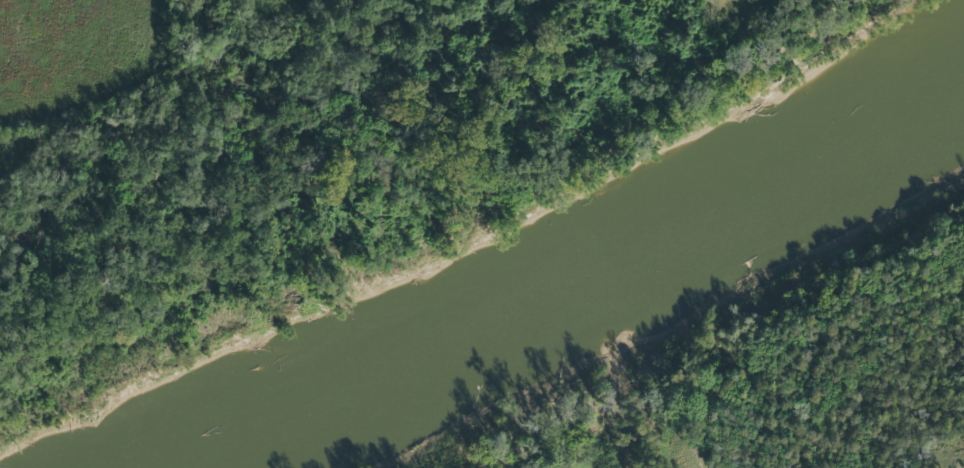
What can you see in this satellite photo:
river: (575, 289)

